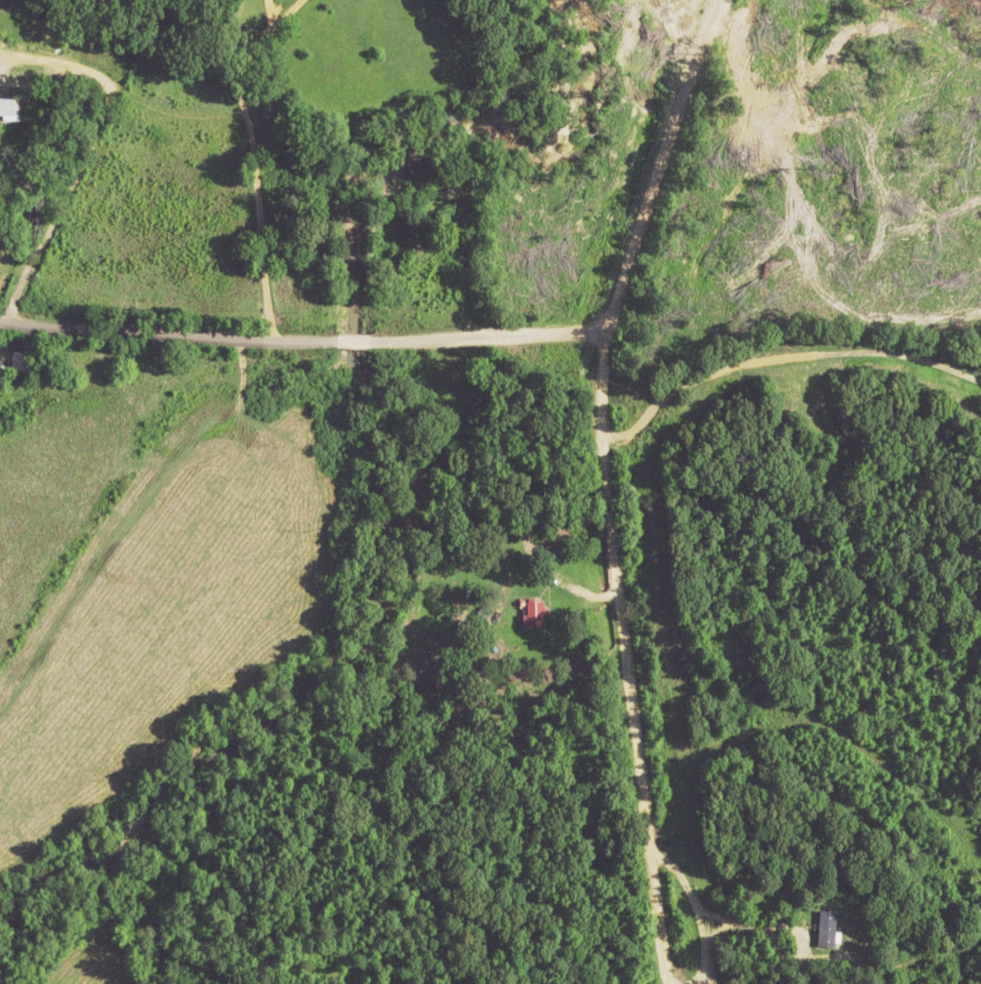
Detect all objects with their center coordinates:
building: (7, 105)
road: (659, 164)
road: (227, 170)
road: (537, 331)
road: (236, 338)
building: (535, 612)
road: (629, 657)
building: (822, 931)

